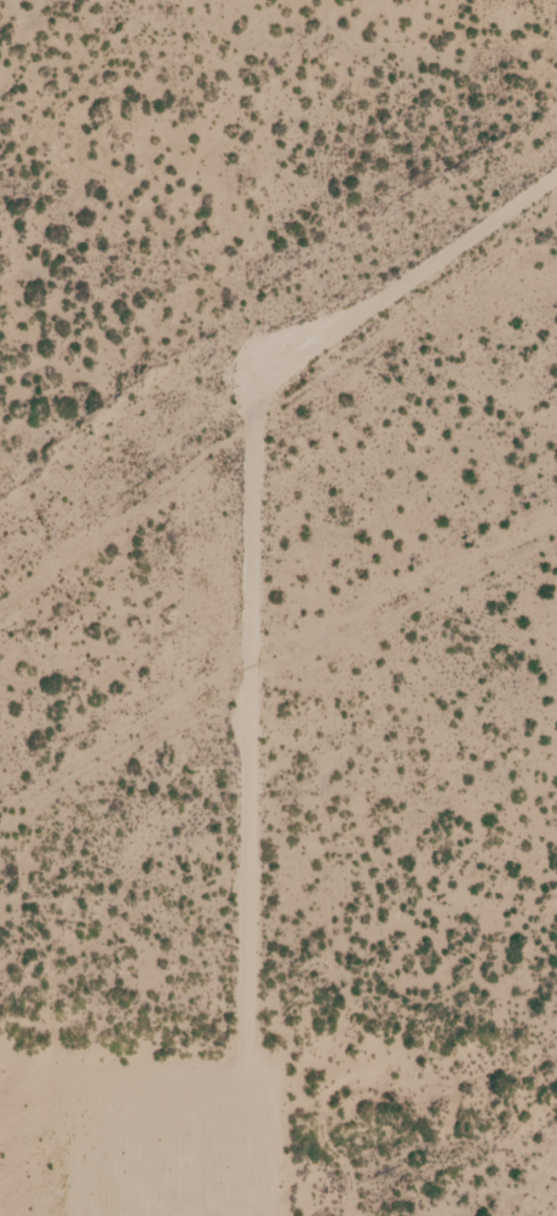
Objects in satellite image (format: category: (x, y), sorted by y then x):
power tower: (225, 314)
road: (247, 596)

